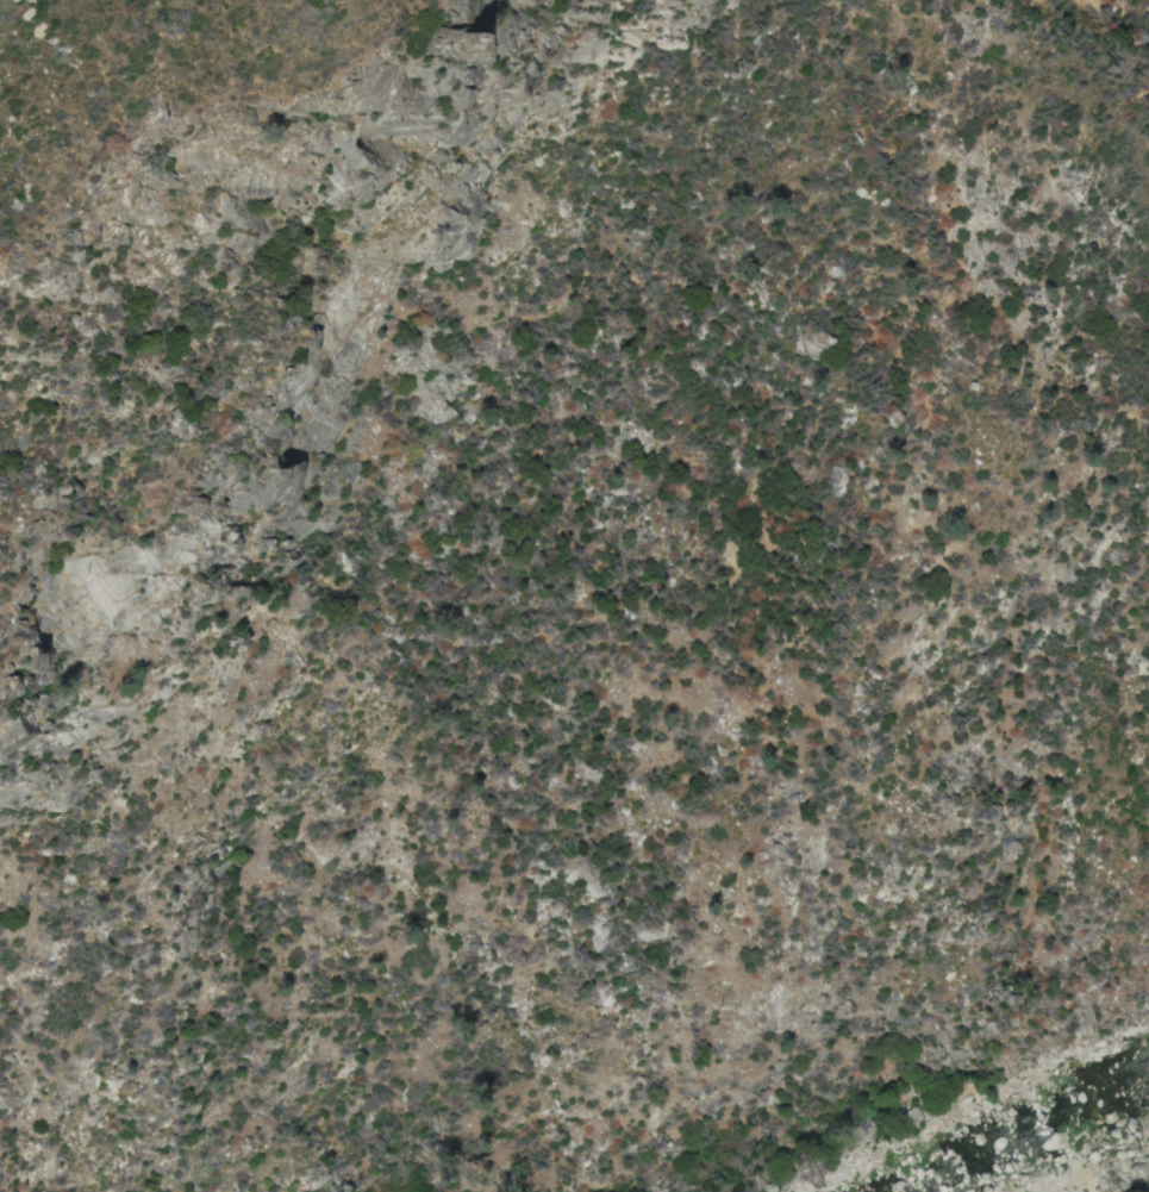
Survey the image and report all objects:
river: (1062, 1148)

